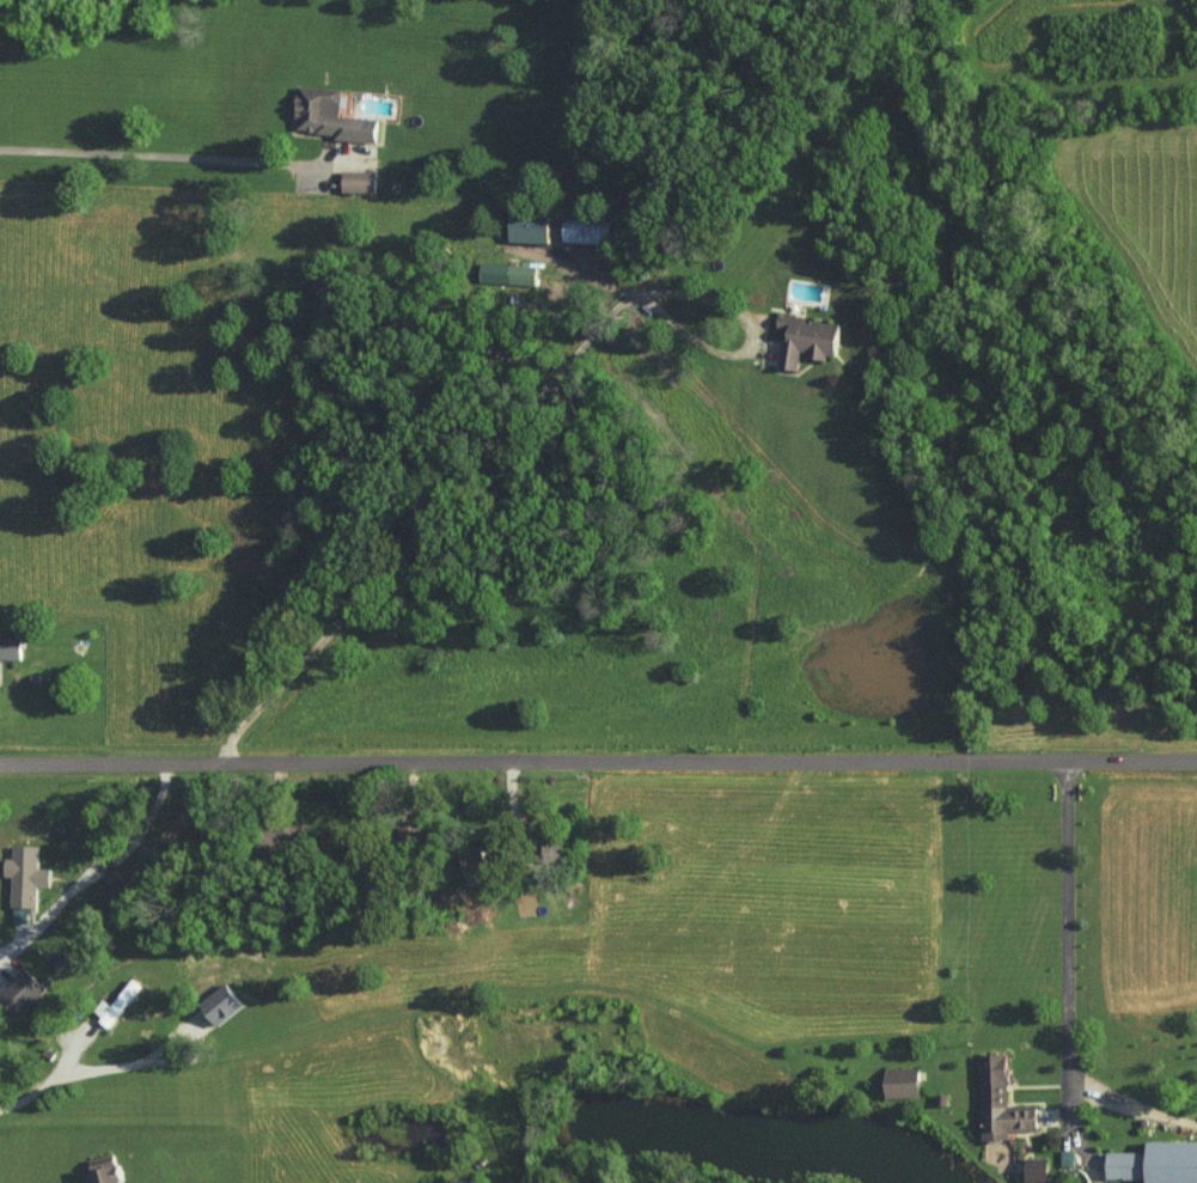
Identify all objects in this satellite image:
building: (330, 115)
road: (155, 157)
building: (360, 181)
building: (531, 227)
building: (588, 231)
building: (508, 273)
building: (808, 339)
building: (11, 648)
road: (598, 767)
road: (88, 865)
building: (26, 874)
building: (22, 990)
building: (118, 1002)
building: (222, 1004)
road: (615, 1041)
road: (1068, 1043)
building: (904, 1081)
building: (1002, 1102)
building: (1156, 1163)
building: (1037, 1169)
building: (104, 1170)

